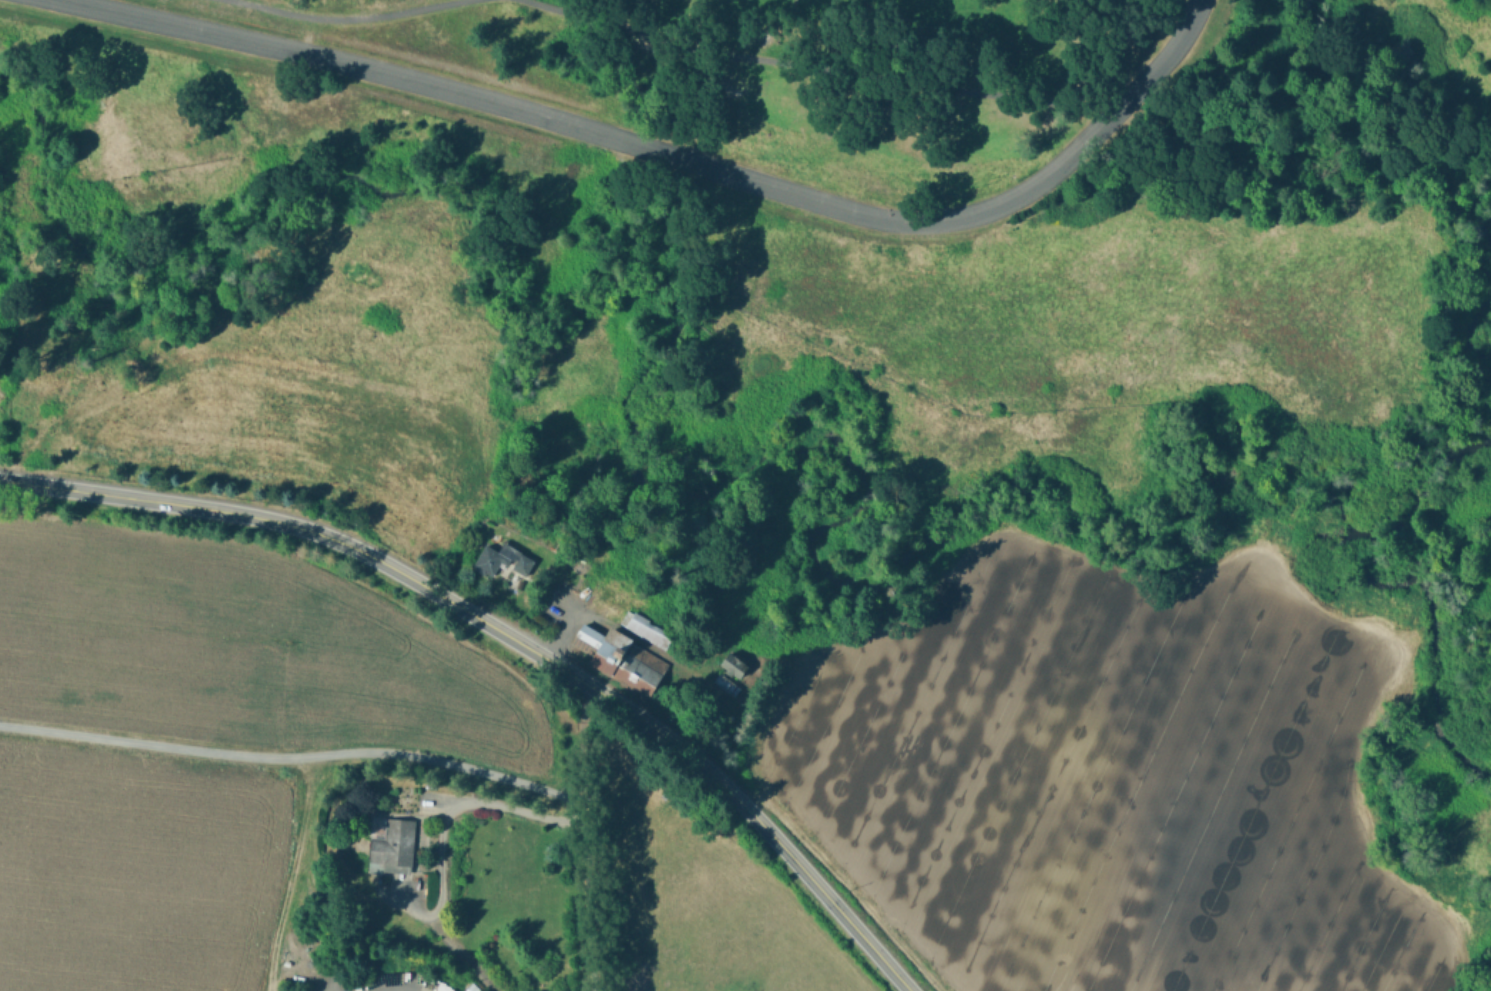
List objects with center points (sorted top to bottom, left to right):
road: (349, 17)
road: (848, 76)
park: (869, 78)
road: (671, 154)
building: (502, 560)
building: (647, 631)
road: (508, 636)
building: (618, 657)
building: (732, 667)
road: (292, 753)
crop: (1098, 788)
crop: (333, 798)
road: (584, 840)
road: (450, 846)
building: (391, 847)

